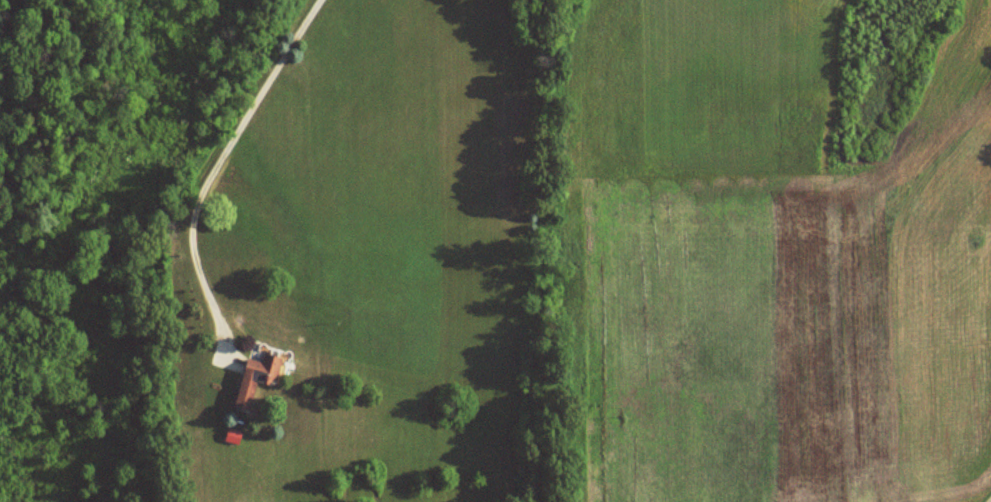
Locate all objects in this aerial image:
building: (257, 378)
road: (989, 499)

